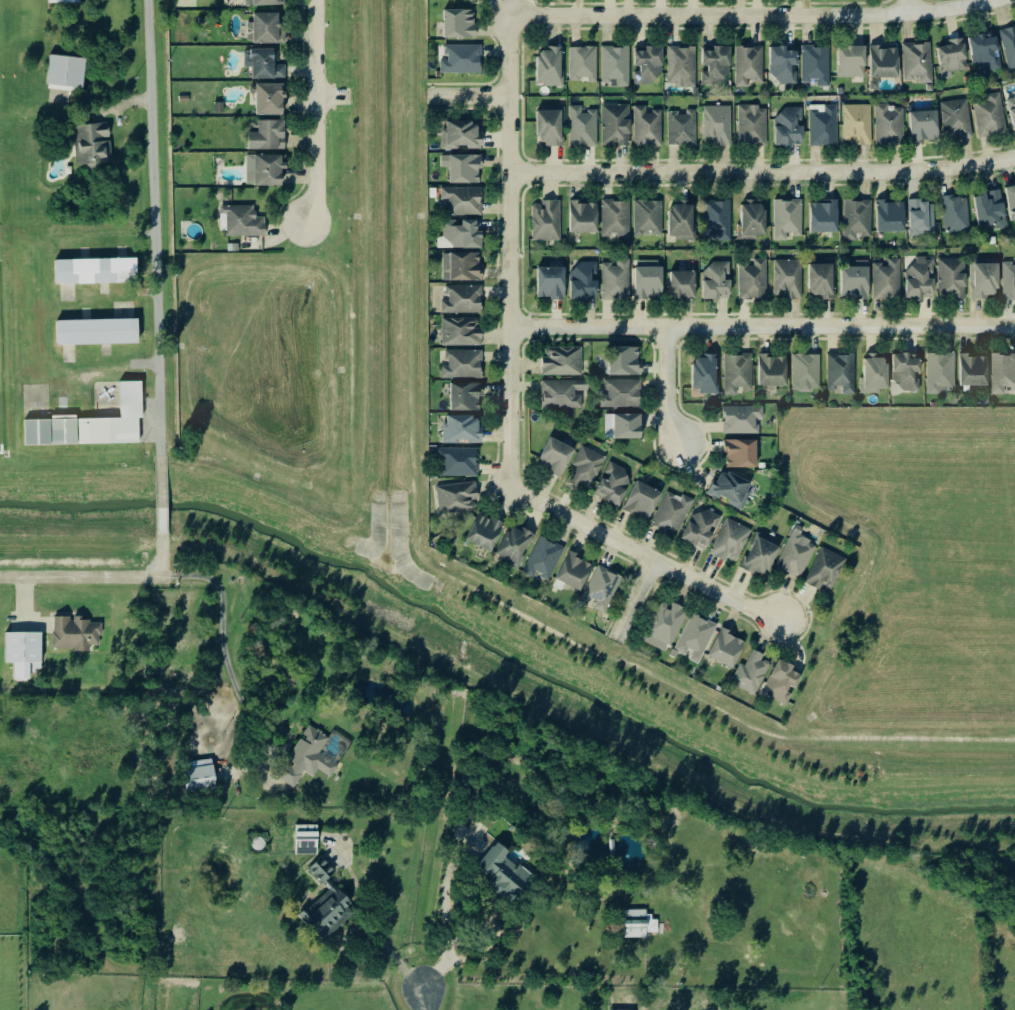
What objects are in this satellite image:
building: (463, 1)
building: (265, 2)
road: (909, 5)
road: (751, 14)
building: (460, 23)
building: (267, 29)
building: (1009, 45)
building: (987, 50)
building: (954, 57)
building: (463, 59)
building: (853, 61)
building: (886, 62)
building: (918, 62)
building: (267, 63)
building: (584, 64)
building: (649, 65)
building: (749, 65)
building: (817, 65)
building: (551, 66)
building: (616, 66)
building: (717, 66)
building: (682, 67)
building: (67, 71)
road: (469, 96)
road: (329, 98)
building: (271, 99)
building: (1013, 110)
road: (312, 112)
building: (991, 116)
building: (957, 119)
building: (858, 124)
building: (752, 125)
building: (824, 125)
building: (890, 125)
building: (926, 125)
building: (616, 126)
building: (717, 126)
building: (551, 127)
building: (648, 127)
building: (583, 128)
building: (683, 128)
building: (790, 128)
building: (462, 135)
building: (269, 136)
building: (93, 146)
building: (464, 168)
building: (266, 170)
road: (763, 172)
building: (1012, 200)
building: (463, 201)
building: (992, 212)
building: (957, 214)
building: (892, 216)
building: (826, 217)
building: (585, 218)
building: (648, 218)
building: (788, 219)
building: (858, 219)
building: (617, 220)
building: (717, 220)
building: (244, 221)
building: (547, 221)
building: (683, 221)
building: (753, 221)
road: (152, 230)
road: (511, 251)
building: (463, 268)
building: (97, 271)
building: (953, 278)
building: (650, 279)
building: (788, 279)
building: (921, 279)
building: (824, 280)
building: (985, 280)
building: (617, 281)
building: (753, 281)
building: (857, 281)
building: (888, 281)
building: (1009, 281)
building: (586, 282)
building: (718, 282)
building: (553, 283)
building: (684, 285)
building: (463, 301)
road: (762, 326)
building: (461, 332)
building: (96, 333)
airport: (73, 340)
building: (563, 361)
building: (627, 361)
building: (463, 365)
building: (774, 371)
building: (806, 371)
building: (977, 371)
building: (739, 373)
building: (842, 373)
building: (908, 373)
building: (943, 373)
building: (1004, 373)
building: (709, 374)
building: (876, 375)
road: (667, 385)
building: (564, 394)
building: (623, 394)
building: (467, 397)
building: (742, 420)
building: (625, 426)
building: (91, 427)
building: (463, 430)
building: (742, 454)
building: (557, 457)
building: (458, 462)
building: (588, 468)
building: (616, 484)
building: (732, 489)
building: (457, 497)
road: (158, 499)
building: (644, 501)
building: (674, 514)
building: (703, 530)
building: (486, 533)
building: (731, 542)
building: (516, 545)
road: (645, 555)
building: (797, 556)
building: (762, 557)
road: (159, 558)
building: (544, 559)
building: (826, 570)
building: (575, 572)
road: (80, 579)
building: (602, 589)
road: (635, 599)
building: (667, 627)
road: (224, 630)
building: (76, 633)
building: (696, 638)
building: (728, 649)
building: (24, 654)
building: (751, 673)
building: (784, 683)
building: (310, 759)
building: (199, 779)
building: (307, 840)
building: (323, 871)
building: (506, 875)
building: (329, 913)
road: (494, 923)
building: (639, 924)
road: (360, 927)
road: (422, 1001)

